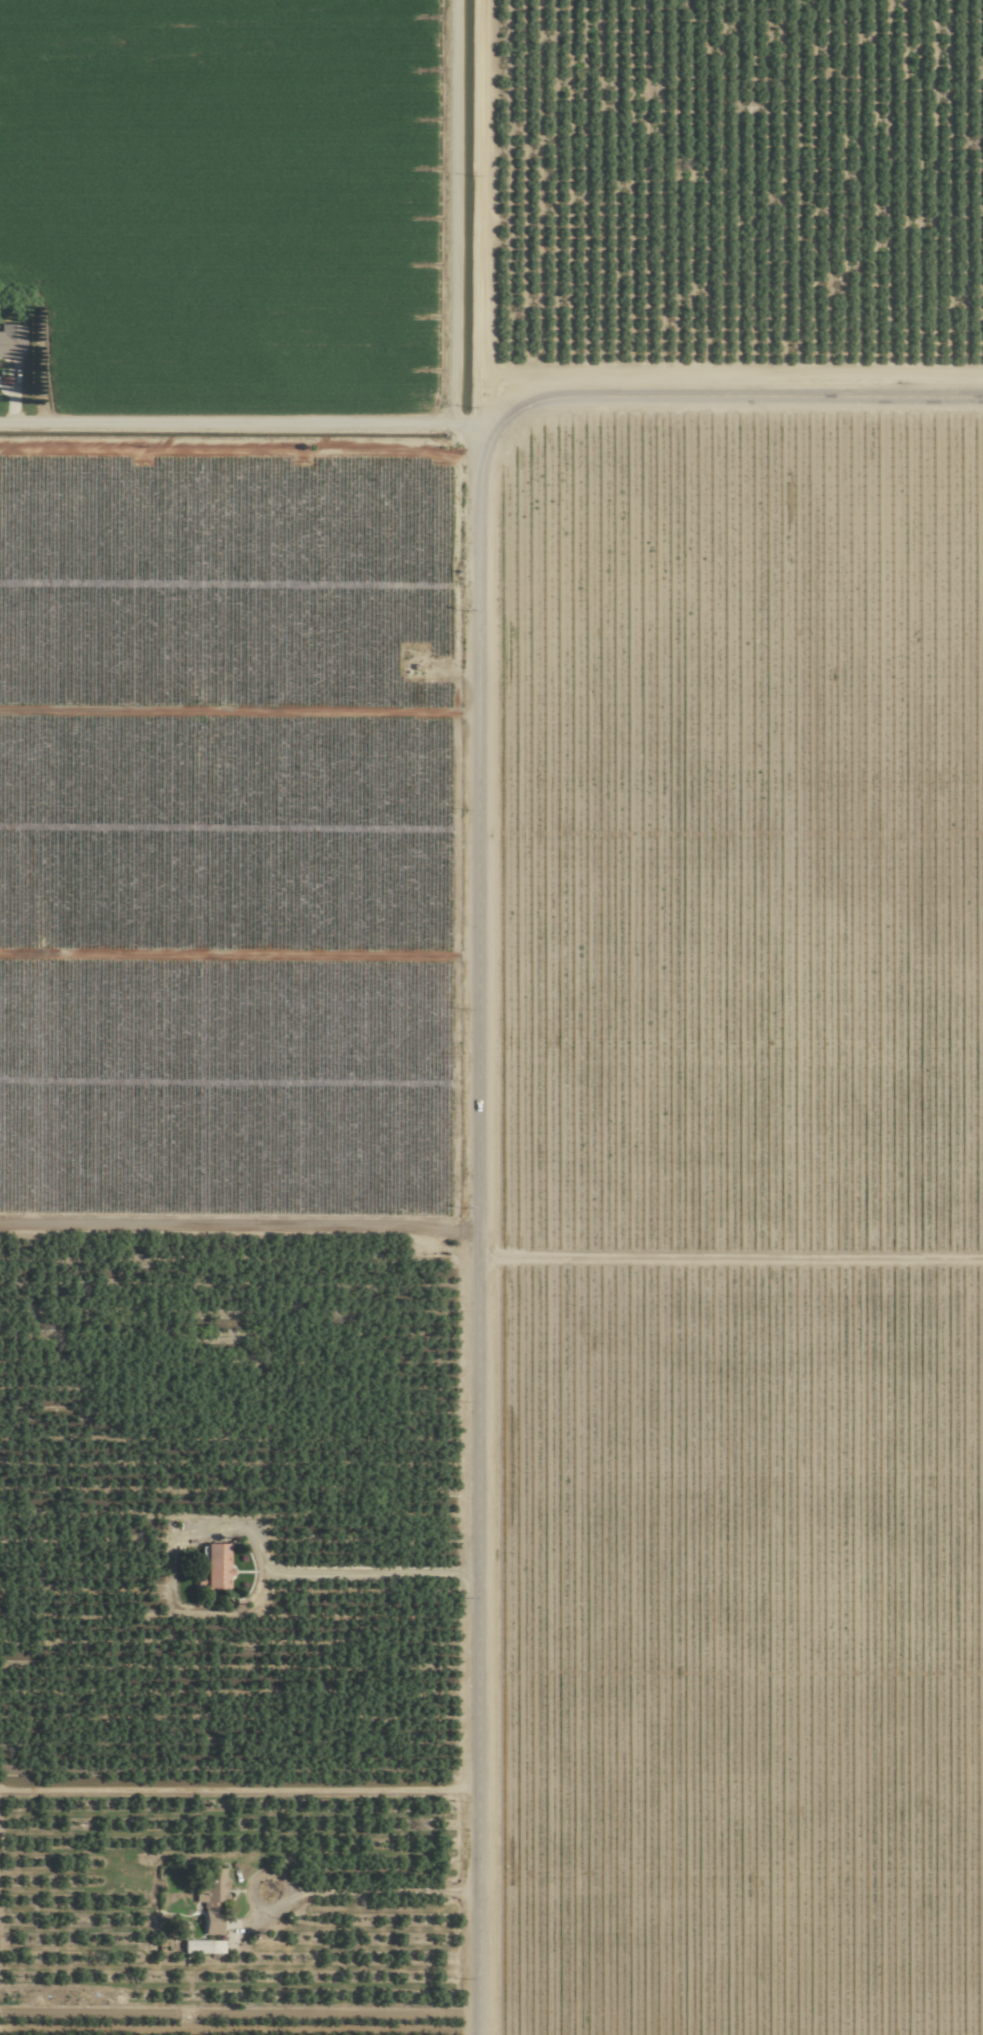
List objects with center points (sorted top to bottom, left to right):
building: (10, 339)
road: (737, 406)
road: (249, 428)
road: (481, 1233)
building: (210, 1567)
road: (374, 1576)
road: (386, 1893)
building: (209, 1898)
building: (200, 1946)

